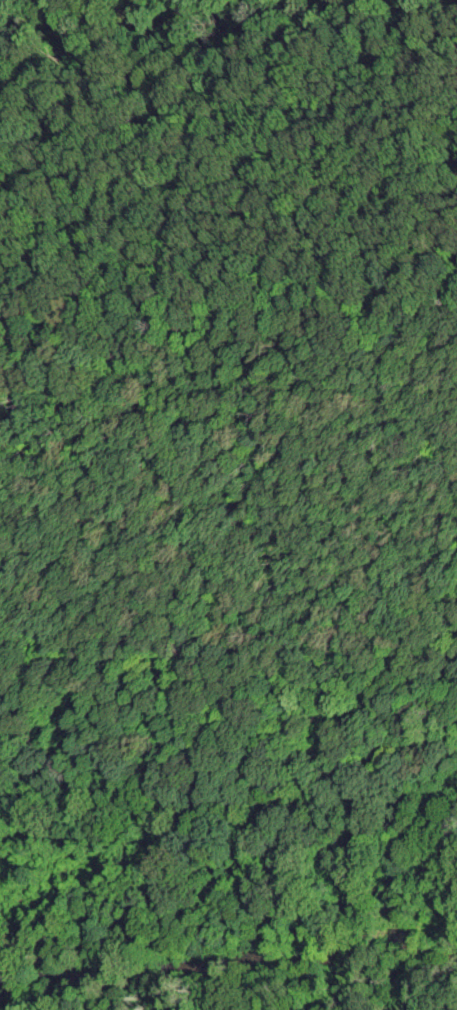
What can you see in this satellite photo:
road: (229, 786)

